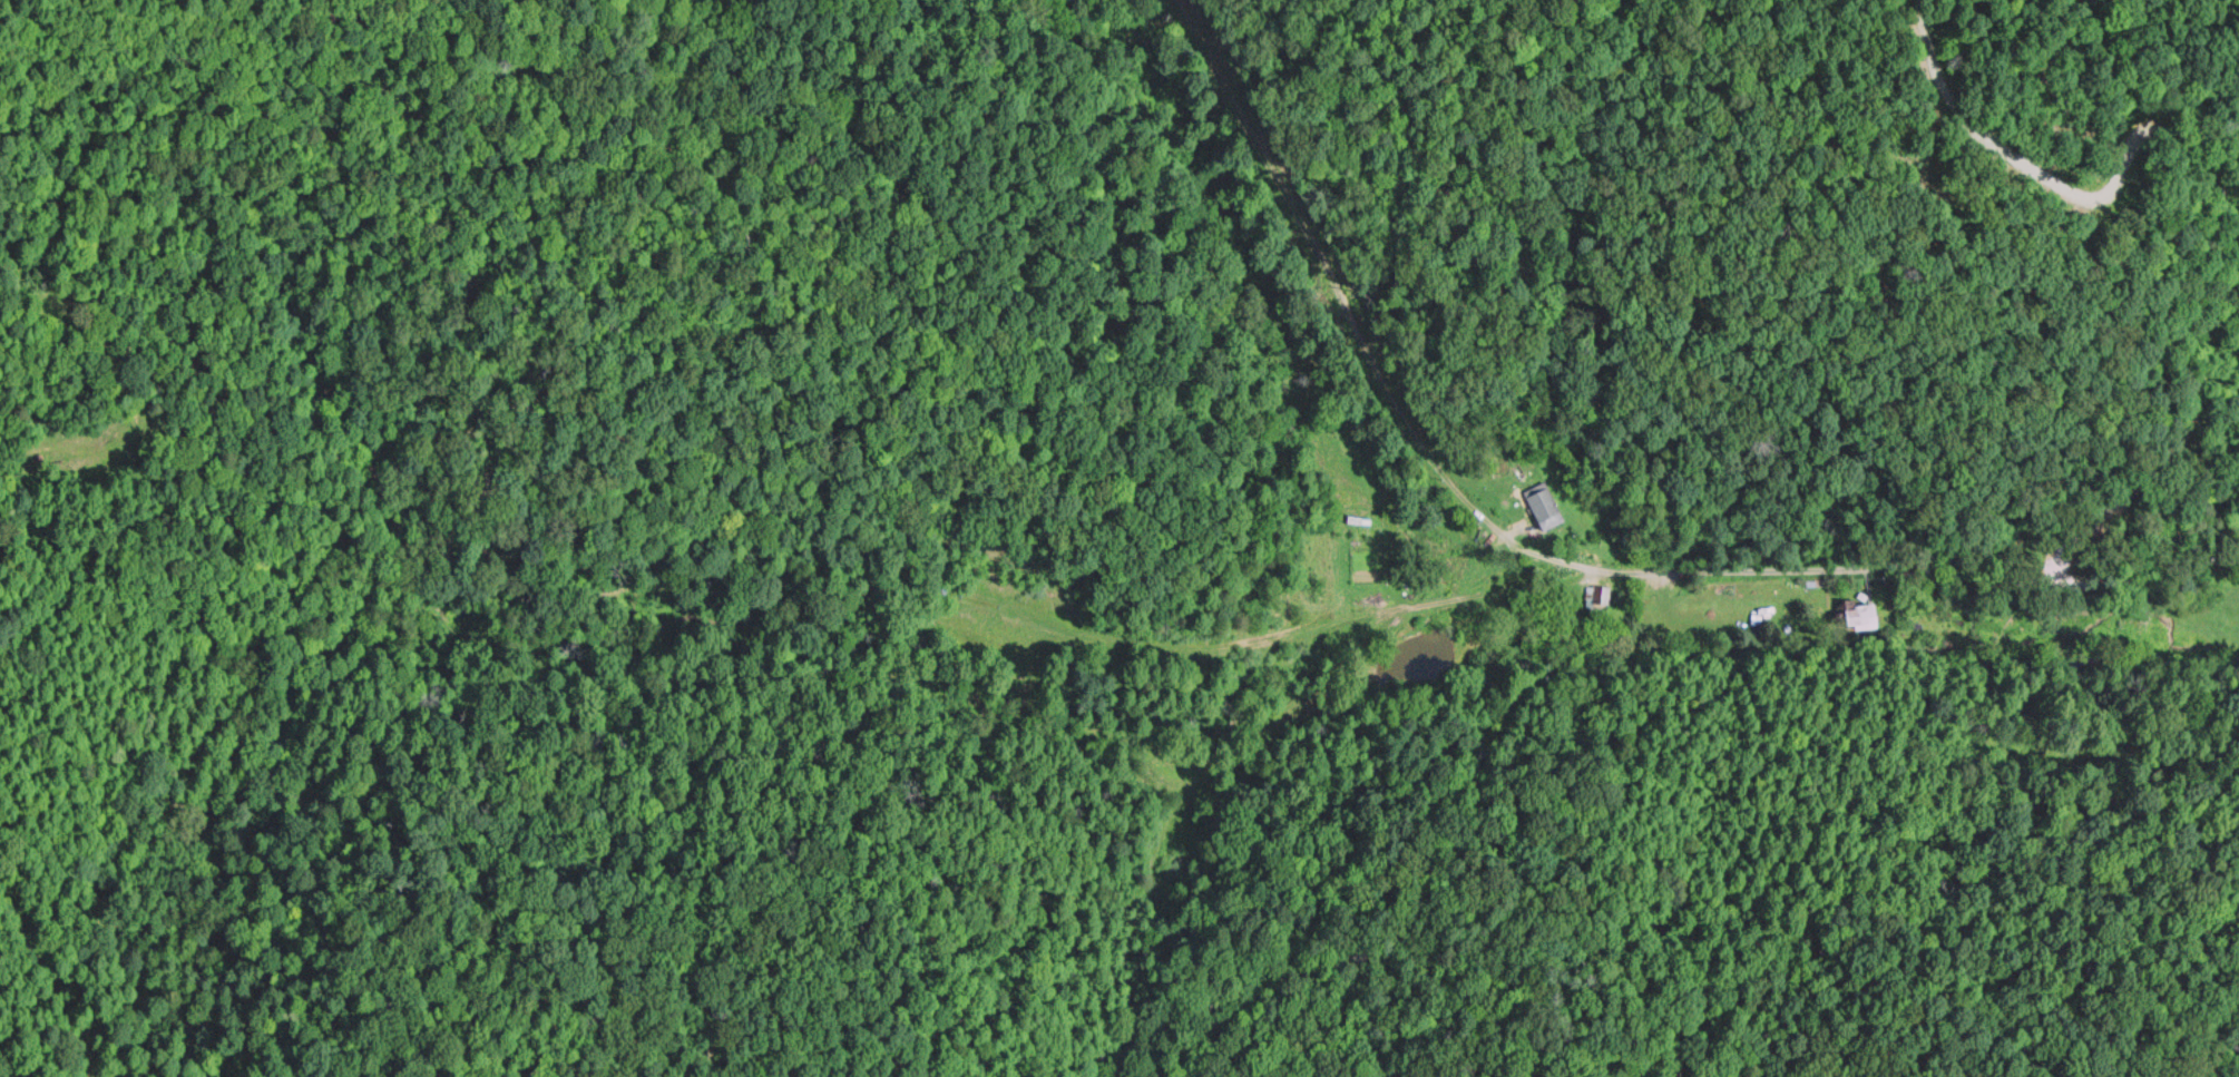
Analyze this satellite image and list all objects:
road: (2200, 481)
building: (1551, 506)
road: (2014, 507)
building: (1865, 616)
road: (1346, 631)

